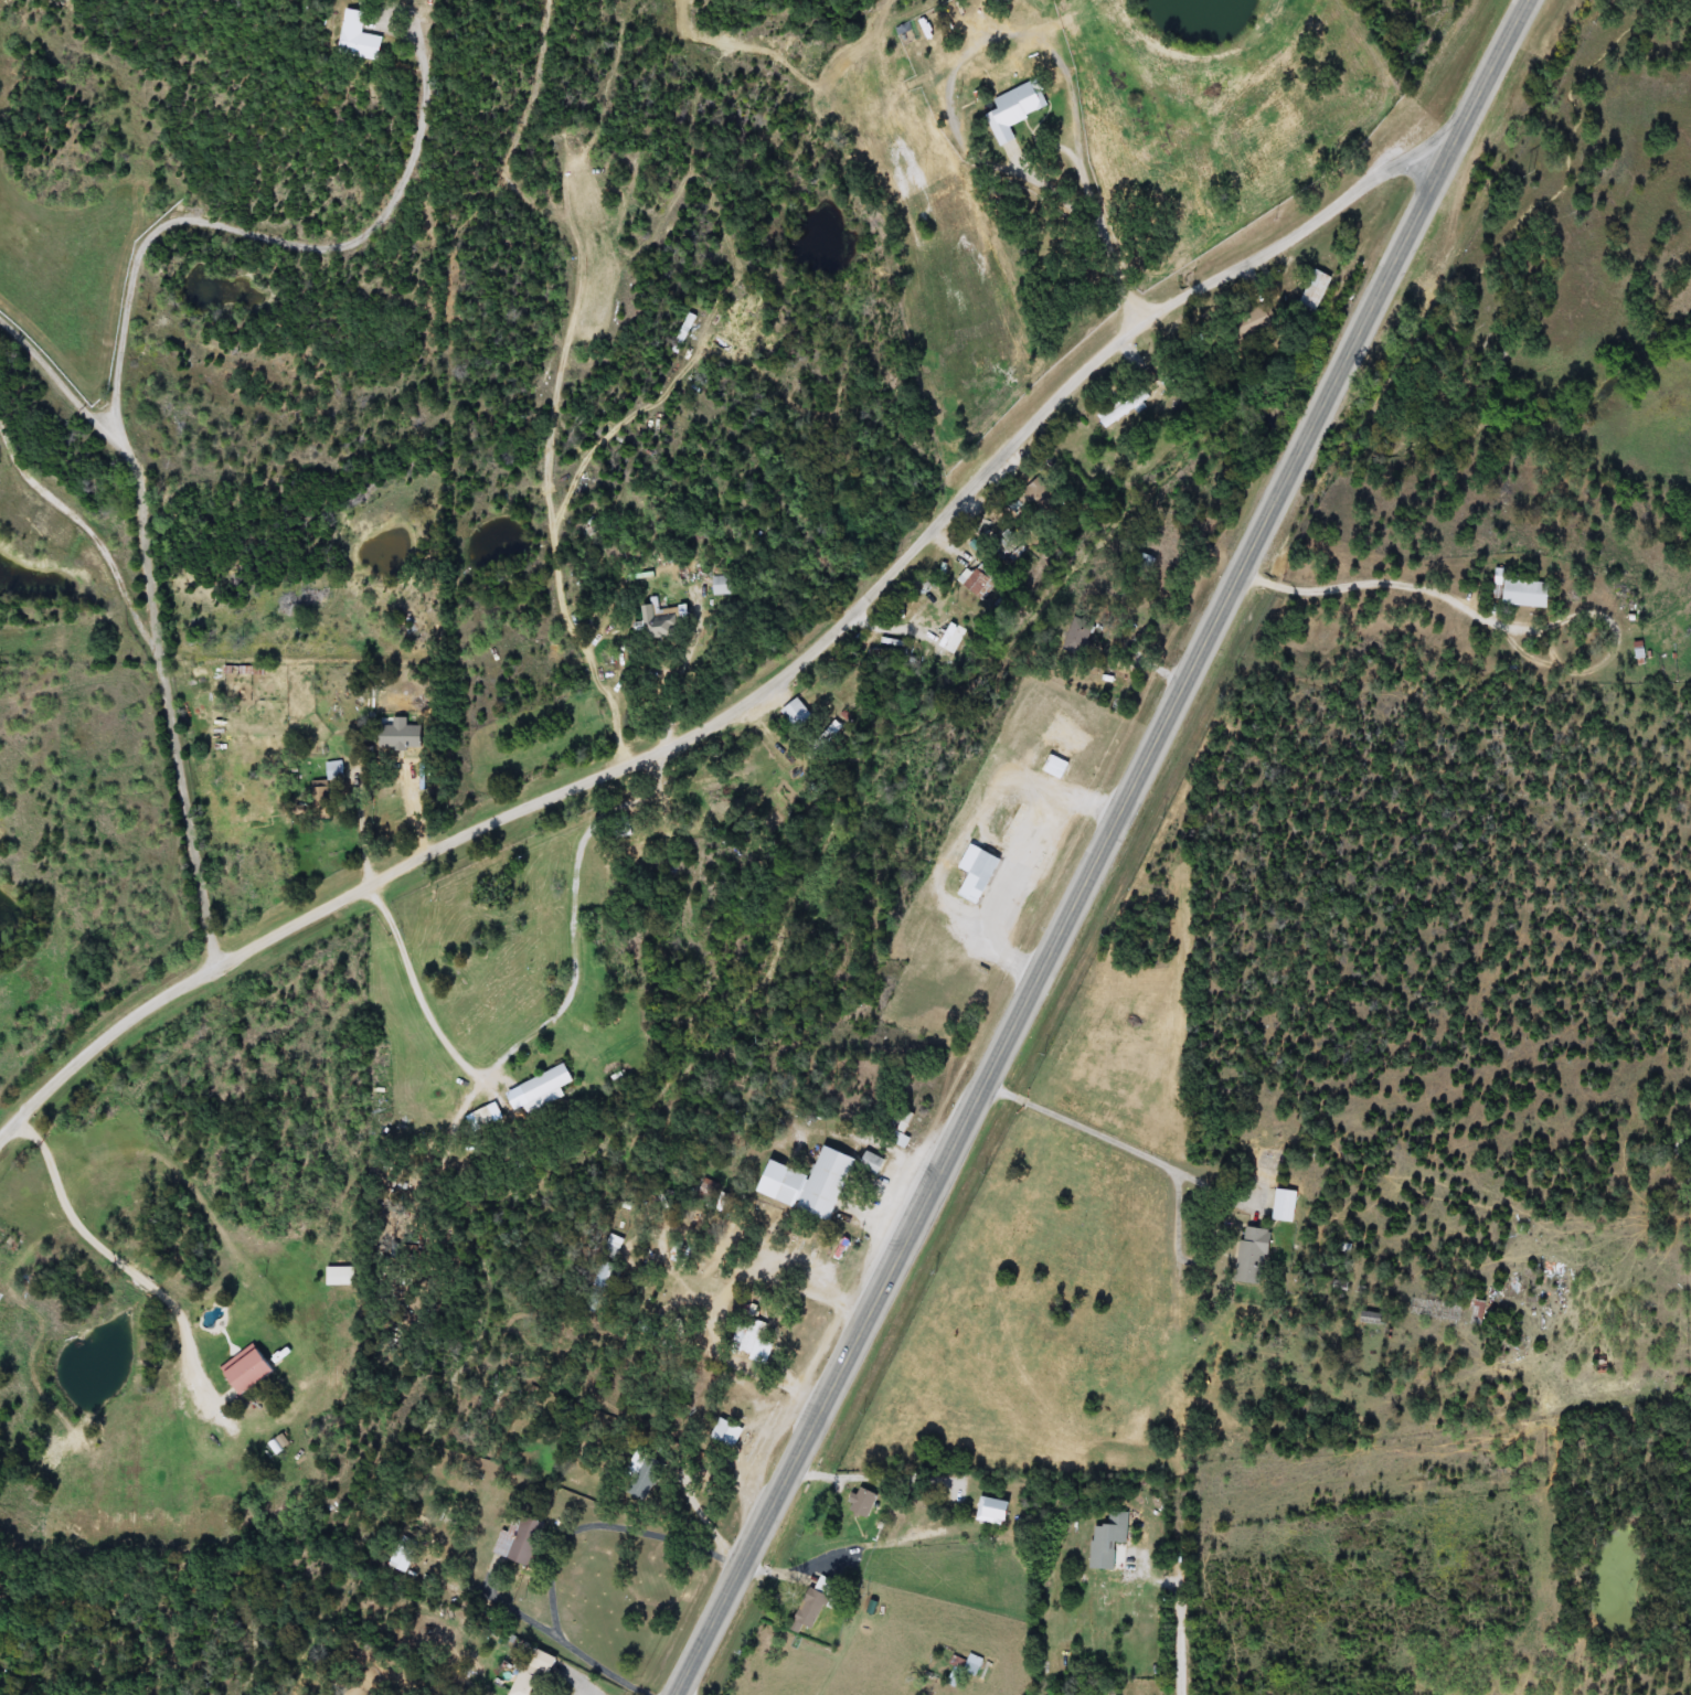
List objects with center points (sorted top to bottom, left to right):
power tower: (1424, 12)
building: (355, 38)
building: (1014, 110)
road: (1080, 162)
power tower: (1521, 175)
road: (266, 231)
building: (1311, 290)
building: (1130, 403)
road: (95, 531)
building: (1146, 565)
road: (1378, 582)
building: (724, 585)
building: (1518, 589)
road: (159, 619)
building: (662, 620)
building: (1076, 636)
building: (943, 643)
road: (772, 679)
building: (1028, 759)
building: (1052, 766)
building: (334, 770)
road: (366, 825)
road: (1102, 846)
railway: (1150, 847)
building: (972, 873)
road: (578, 907)
road: (422, 992)
building: (541, 1090)
building: (896, 1129)
road: (1095, 1130)
building: (868, 1162)
building: (805, 1183)
building: (706, 1188)
building: (1283, 1205)
building: (1252, 1256)
road: (797, 1271)
building: (342, 1277)
building: (604, 1279)
building: (749, 1340)
building: (252, 1368)
building: (723, 1433)
road: (873, 1477)
building: (642, 1478)
building: (860, 1502)
road: (709, 1524)
building: (519, 1541)
building: (1105, 1541)
road: (560, 1552)
building: (400, 1555)
road: (791, 1573)
road: (1179, 1591)
building: (805, 1611)
building: (961, 1669)
building: (533, 1678)

